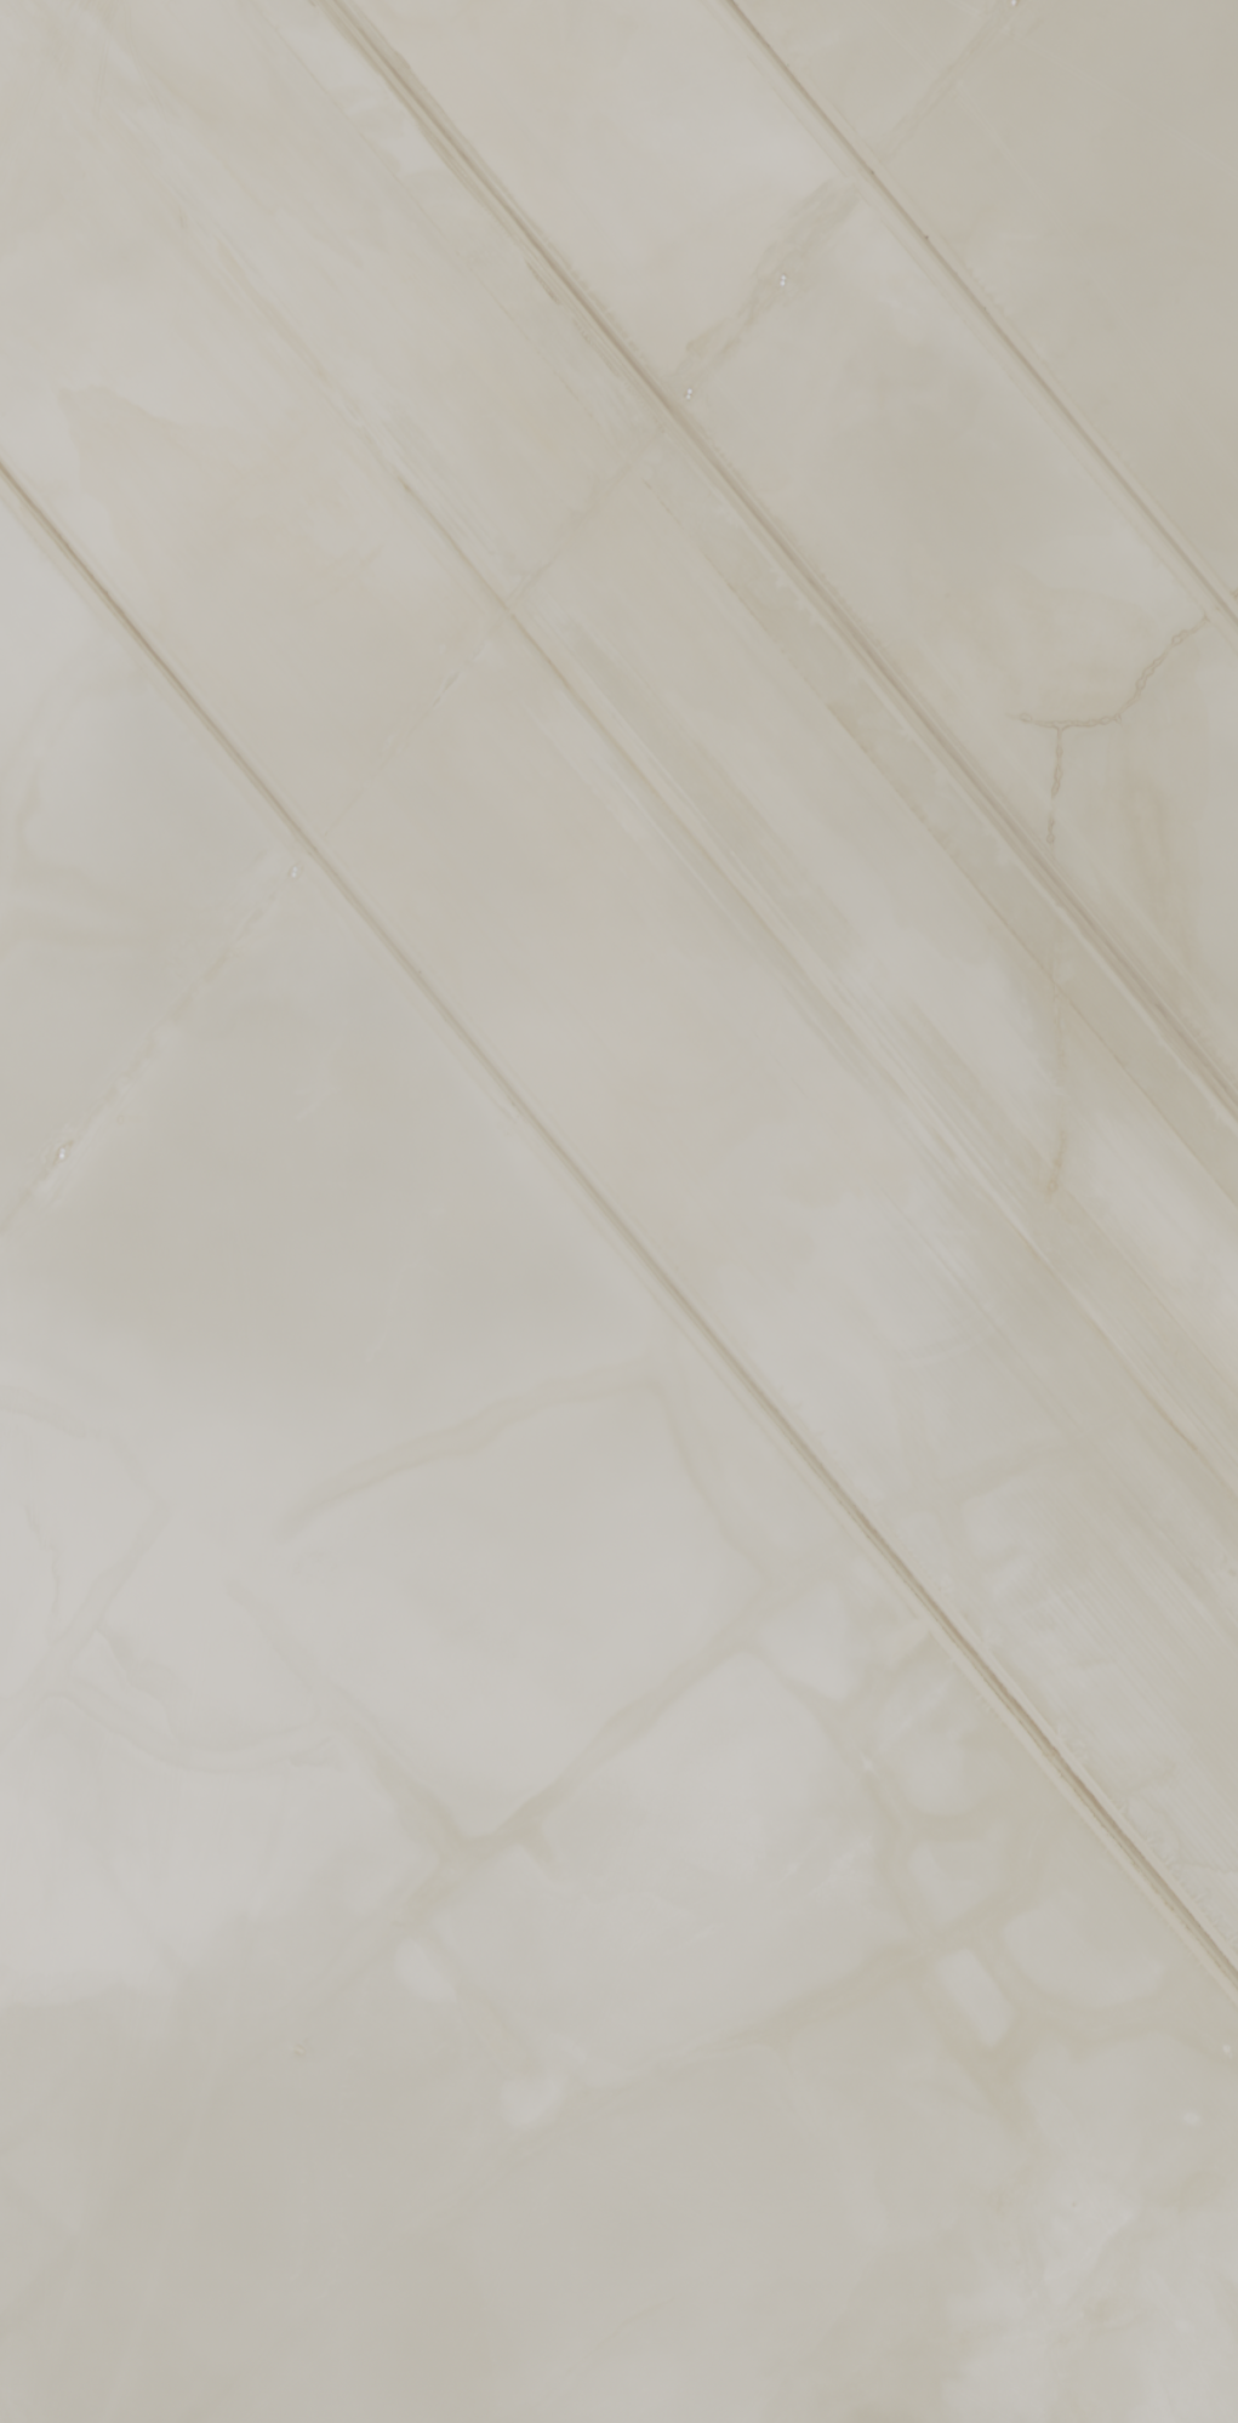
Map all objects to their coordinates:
airport runway: (704, 651)
airport: (618, 1211)

